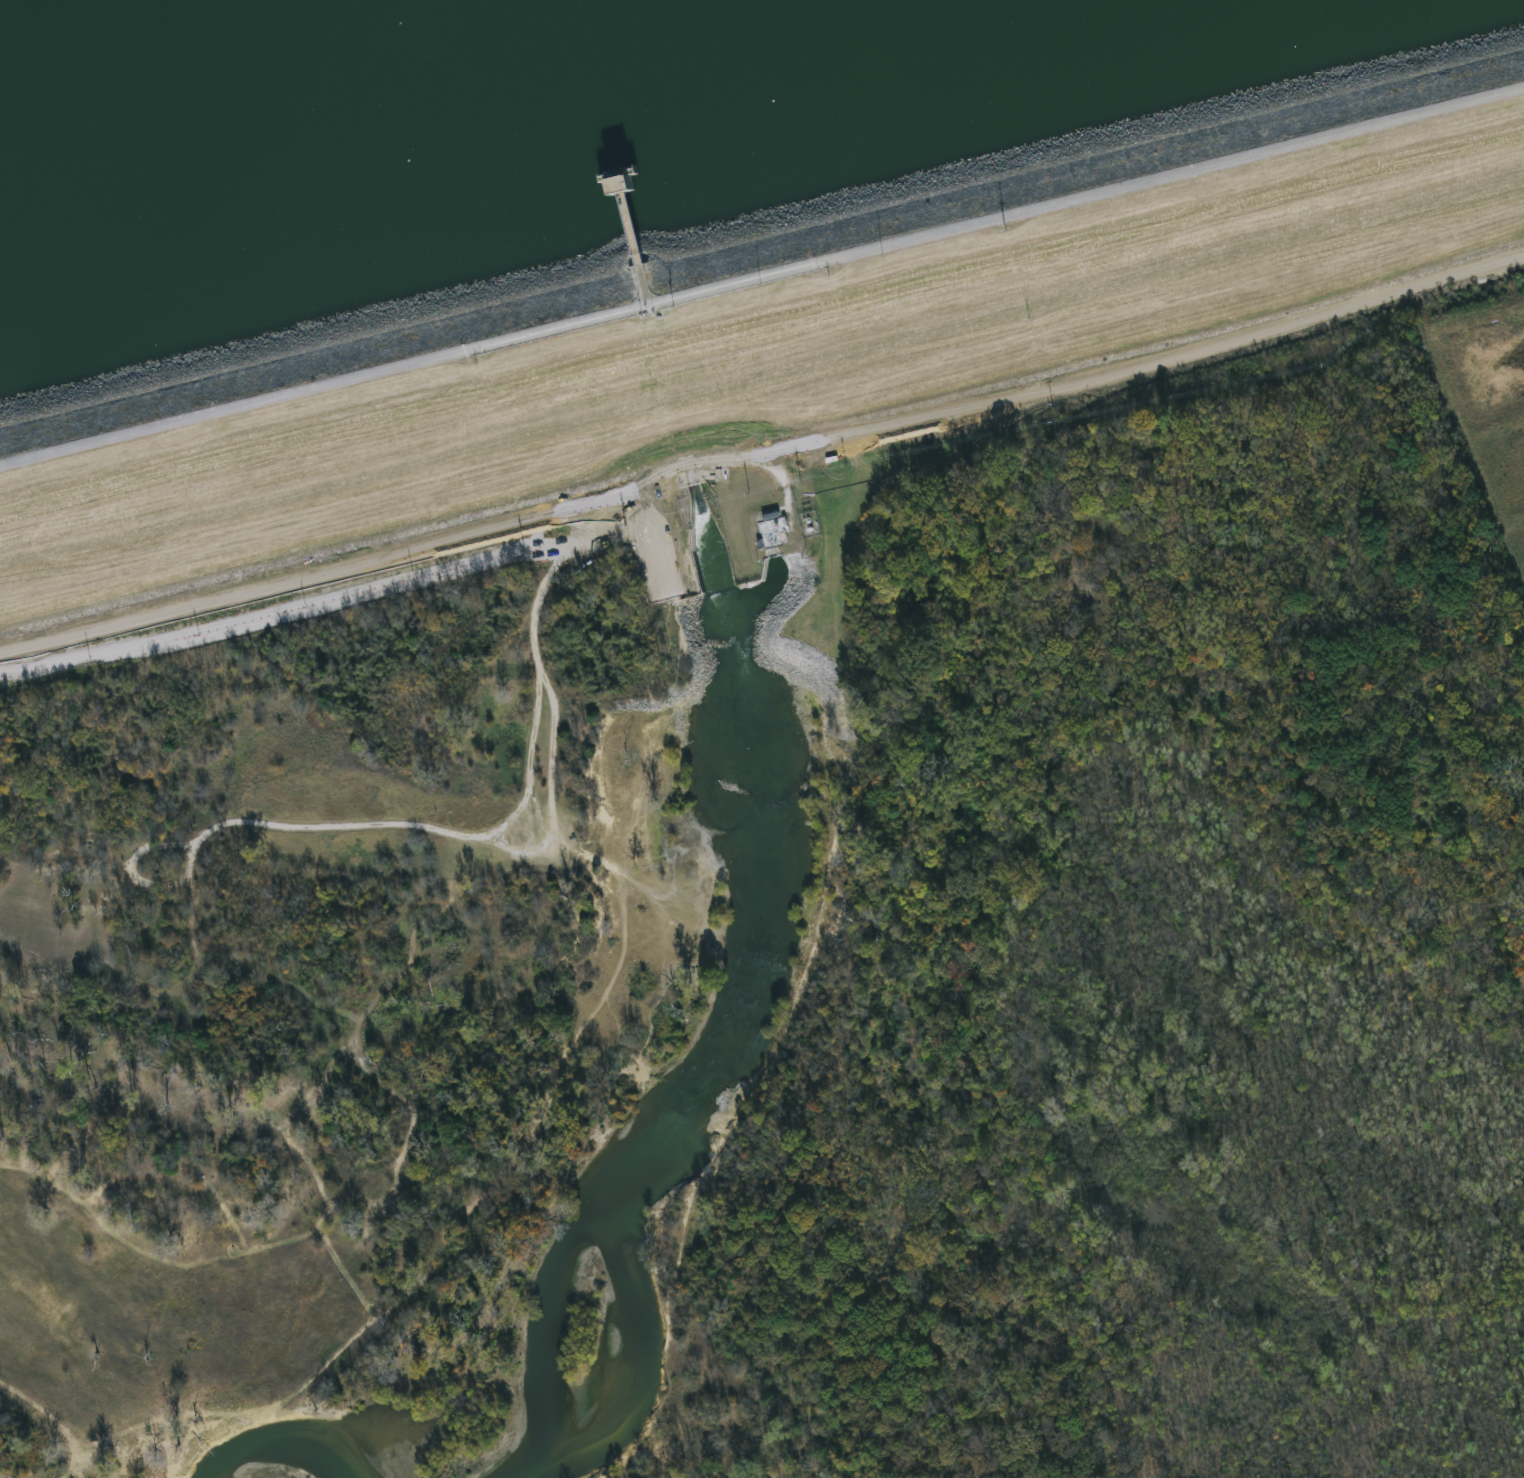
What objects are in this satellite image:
building: (622, 186)
road: (633, 229)
road: (762, 278)
road: (648, 286)
dam: (751, 321)
river: (653, 329)
road: (1091, 383)
aquafarm: (1488, 404)
building: (772, 534)
road: (648, 537)
parking lot: (652, 550)
road: (328, 574)
road: (321, 831)
road: (541, 850)
river: (767, 859)
road: (131, 867)
road: (803, 984)
road: (582, 1026)
road: (396, 1101)
road: (281, 1135)
road: (185, 1179)
road: (303, 1247)
road: (164, 1267)
river: (546, 1331)
river: (628, 1355)
road: (52, 1404)
road: (170, 1407)
river: (293, 1442)
road: (71, 1476)

